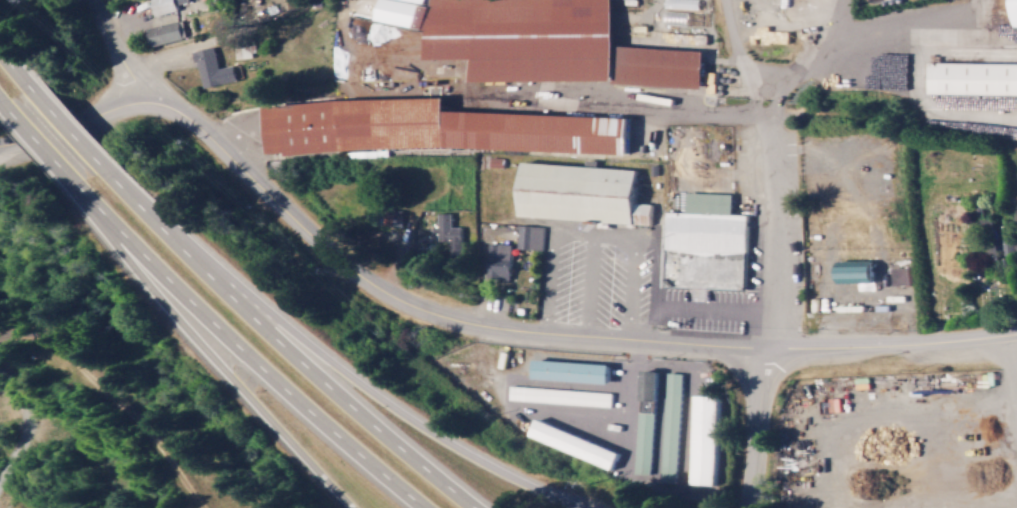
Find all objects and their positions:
building: (683, 3)
building: (165, 5)
building: (283, 6)
building: (803, 9)
building: (403, 12)
building: (165, 32)
building: (681, 36)
building: (444, 48)
building: (246, 51)
building: (582, 51)
road: (120, 56)
building: (213, 68)
road: (16, 72)
building: (974, 79)
railway: (501, 89)
road: (1, 102)
building: (431, 128)
road: (67, 131)
road: (37, 144)
building: (658, 147)
building: (579, 193)
building: (1014, 206)
road: (769, 225)
building: (449, 234)
building: (530, 237)
building: (1016, 239)
building: (707, 243)
building: (498, 261)
building: (853, 271)
building: (900, 276)
road: (466, 323)
road: (283, 344)
road: (207, 350)
road: (245, 350)
building: (570, 371)
road: (353, 377)
building: (561, 395)
building: (646, 421)
building: (671, 426)
road: (756, 429)
building: (704, 440)
building: (573, 444)

